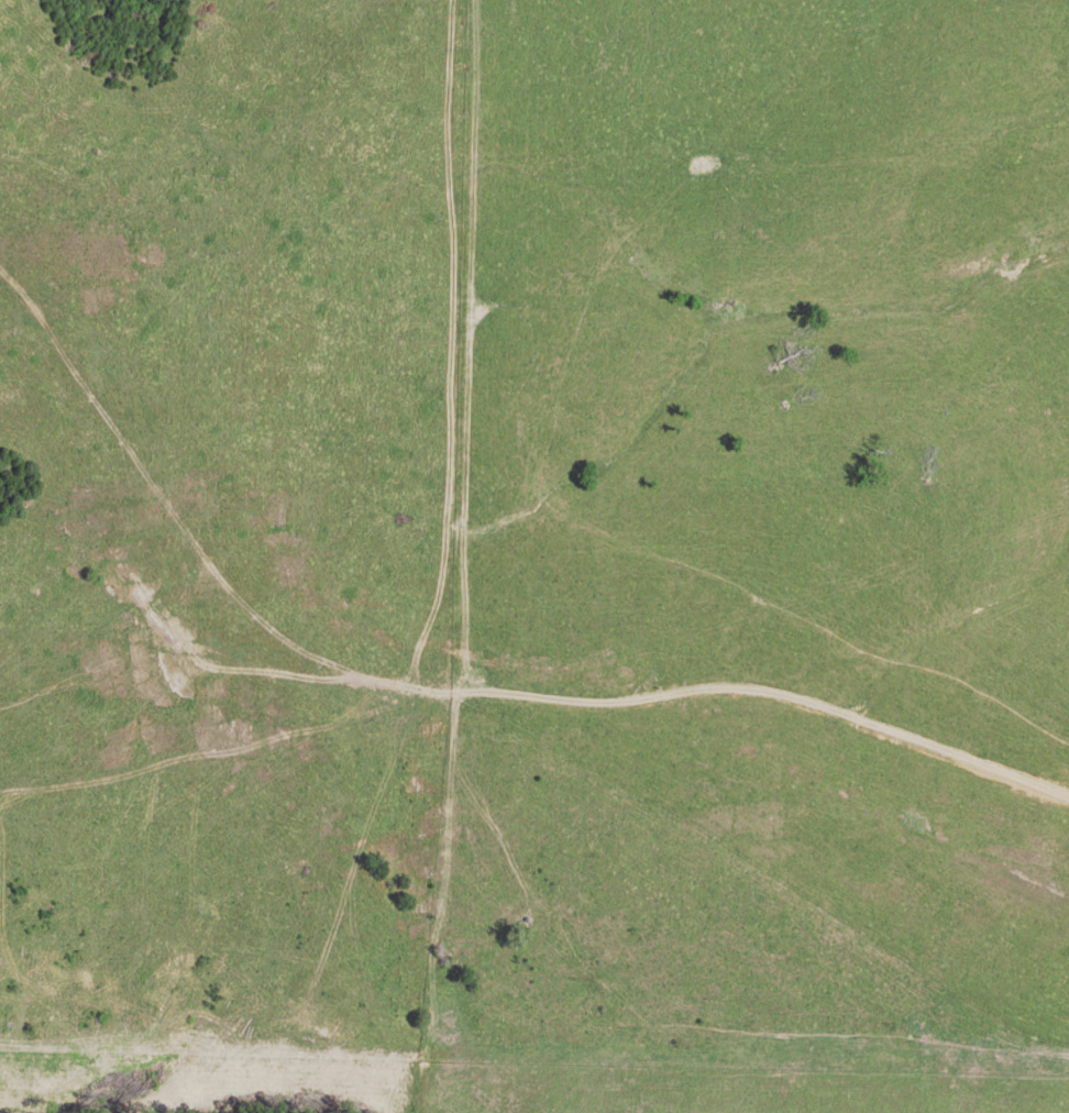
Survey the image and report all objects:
road: (811, 725)

